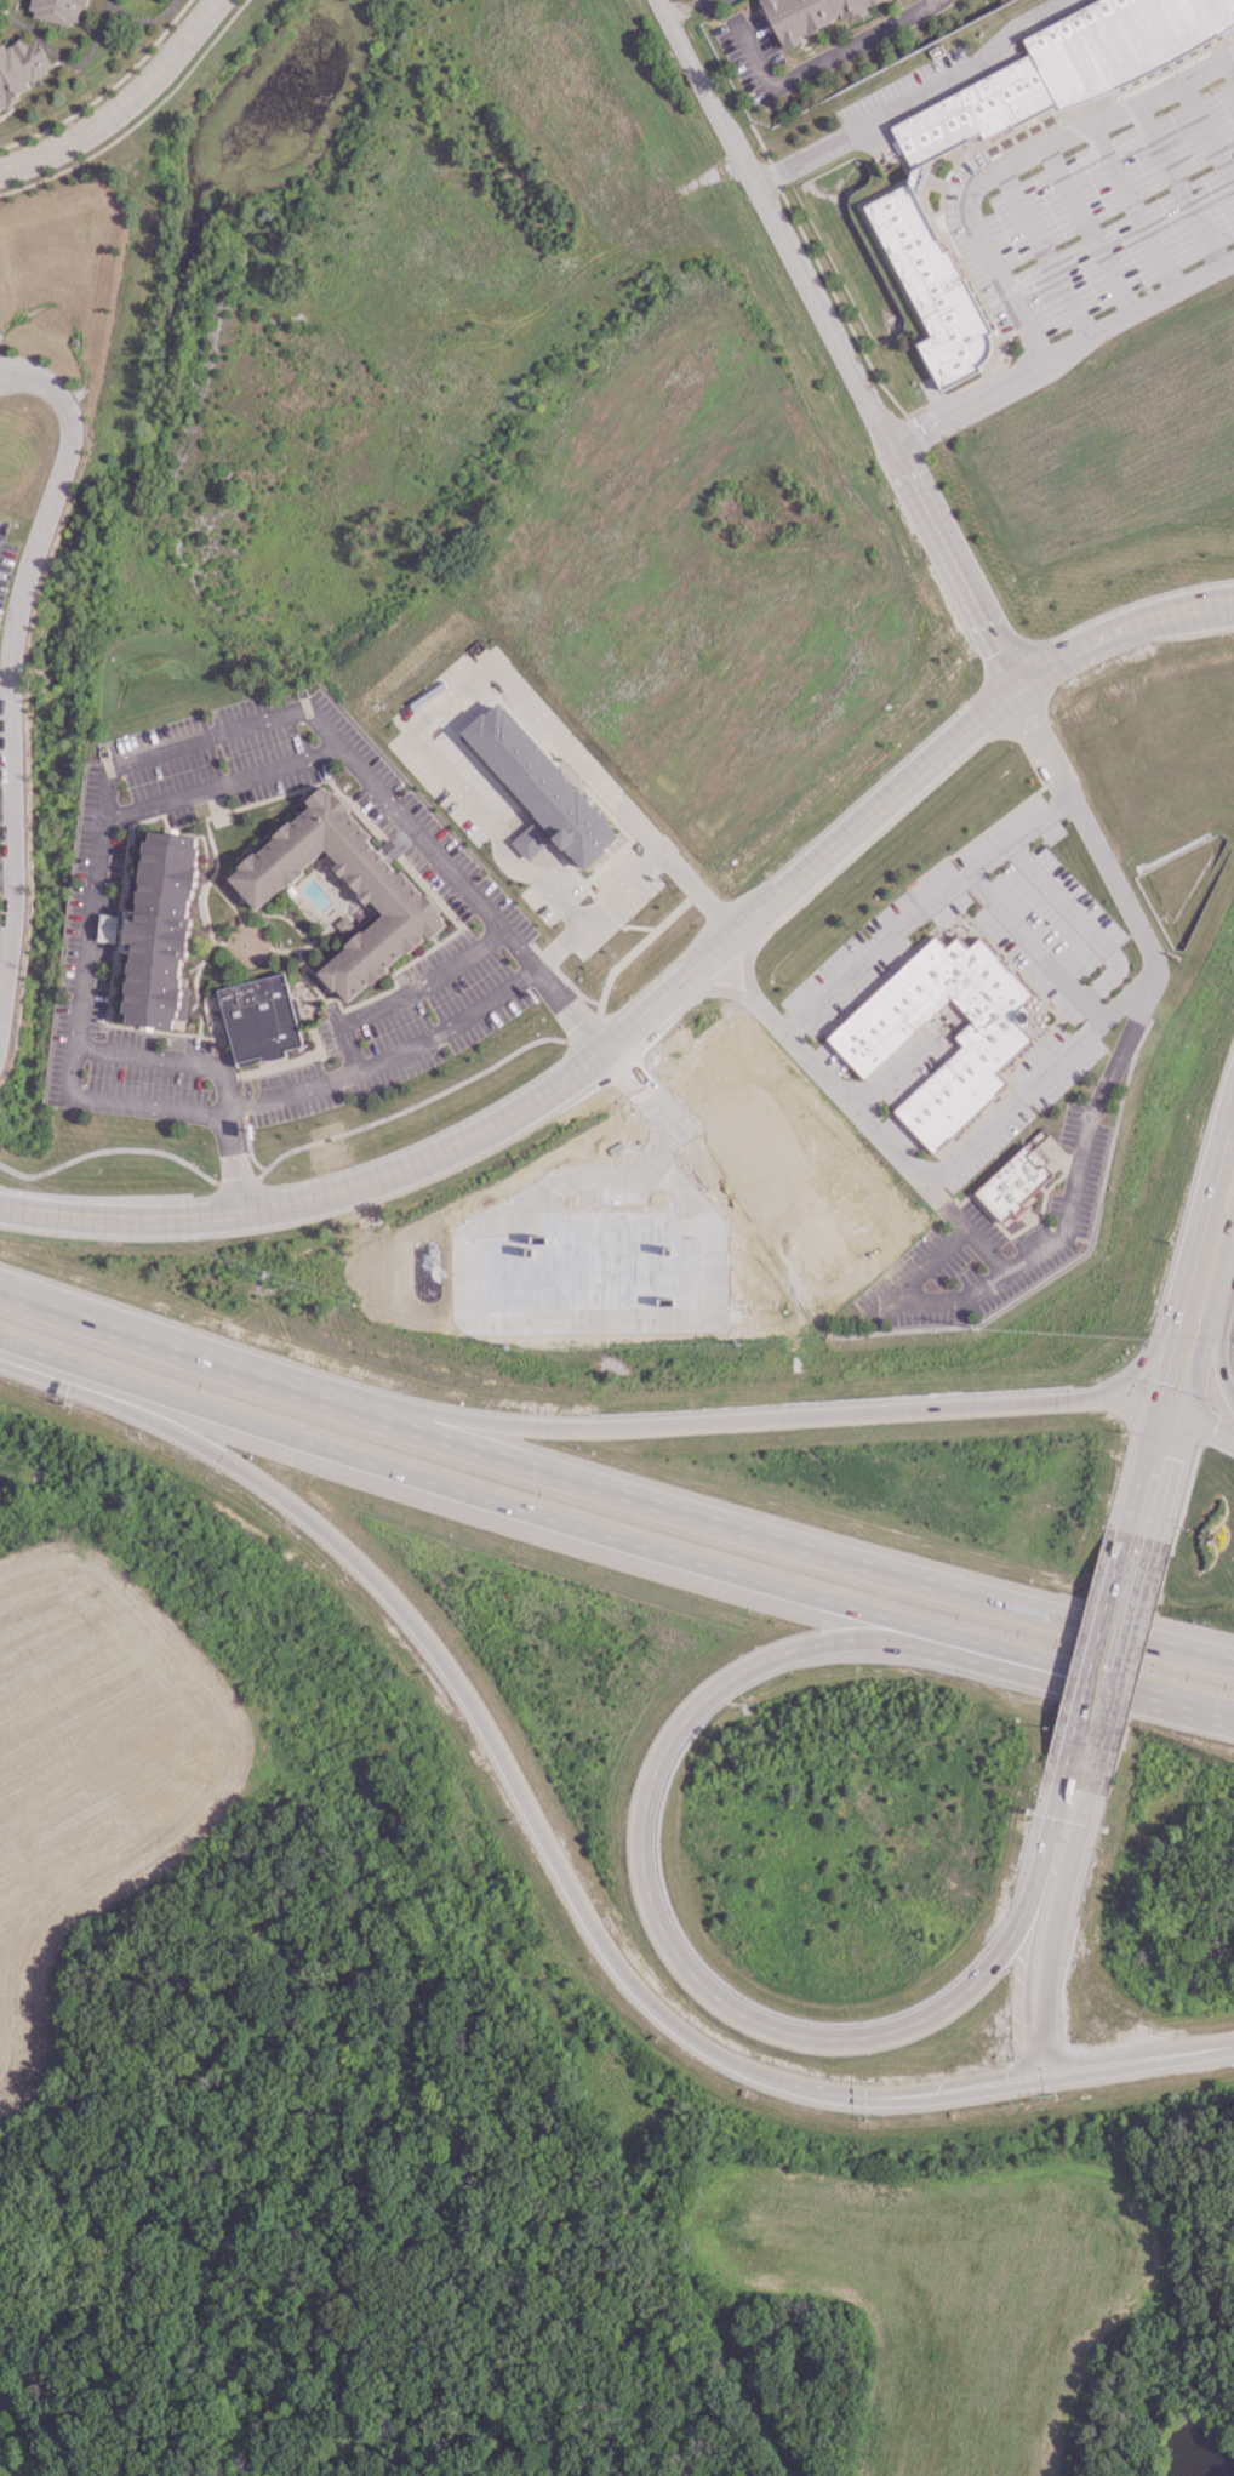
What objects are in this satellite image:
road: (933, 2)
building: (56, 10)
building: (809, 16)
road: (142, 21)
road: (855, 44)
road: (750, 53)
road: (73, 65)
building: (19, 67)
road: (1229, 67)
road: (107, 89)
road: (915, 99)
road: (122, 103)
road: (1114, 114)
road: (141, 119)
road: (1209, 130)
road: (1179, 184)
building: (907, 189)
road: (1133, 206)
road: (1090, 228)
road: (1044, 250)
road: (992, 263)
road: (822, 272)
road: (912, 302)
road: (838, 343)
road: (1061, 350)
road: (924, 405)
road: (1116, 629)
road: (11, 677)
road: (447, 698)
road: (213, 774)
building: (539, 783)
road: (6, 803)
road: (8, 873)
road: (1114, 883)
building: (388, 892)
road: (916, 906)
road: (1079, 918)
building: (160, 930)
road: (1032, 942)
road: (556, 946)
road: (747, 959)
road: (716, 989)
building: (212, 1008)
building: (261, 1017)
building: (979, 1057)
road: (887, 1072)
road: (339, 1078)
road: (1038, 1079)
road: (562, 1080)
road: (857, 1116)
road: (288, 1148)
building: (1012, 1185)
road: (1205, 1204)
road: (1230, 1237)
road: (987, 1249)
road: (992, 1280)
road: (1224, 1322)
road: (1206, 1330)
road: (173, 1356)
road: (1169, 1363)
road: (1142, 1365)
road: (1132, 1400)
traffic signals: (1172, 1409)
road: (720, 1421)
road: (1202, 1422)
road: (1153, 1481)
road: (571, 1525)
road: (777, 1545)
road: (422, 1636)
road: (1110, 1648)
road: (1222, 1664)
road: (1222, 1665)
road: (1192, 1701)
road: (1069, 1810)
road: (644, 1824)
road: (1035, 1972)
road: (1136, 2050)
road: (1132, 2065)
traffic signals: (1040, 2069)
road: (990, 2077)
road: (993, 2088)
road: (824, 2090)
road: (0, 2312)
road: (7, 2326)
road: (50, 2407)

